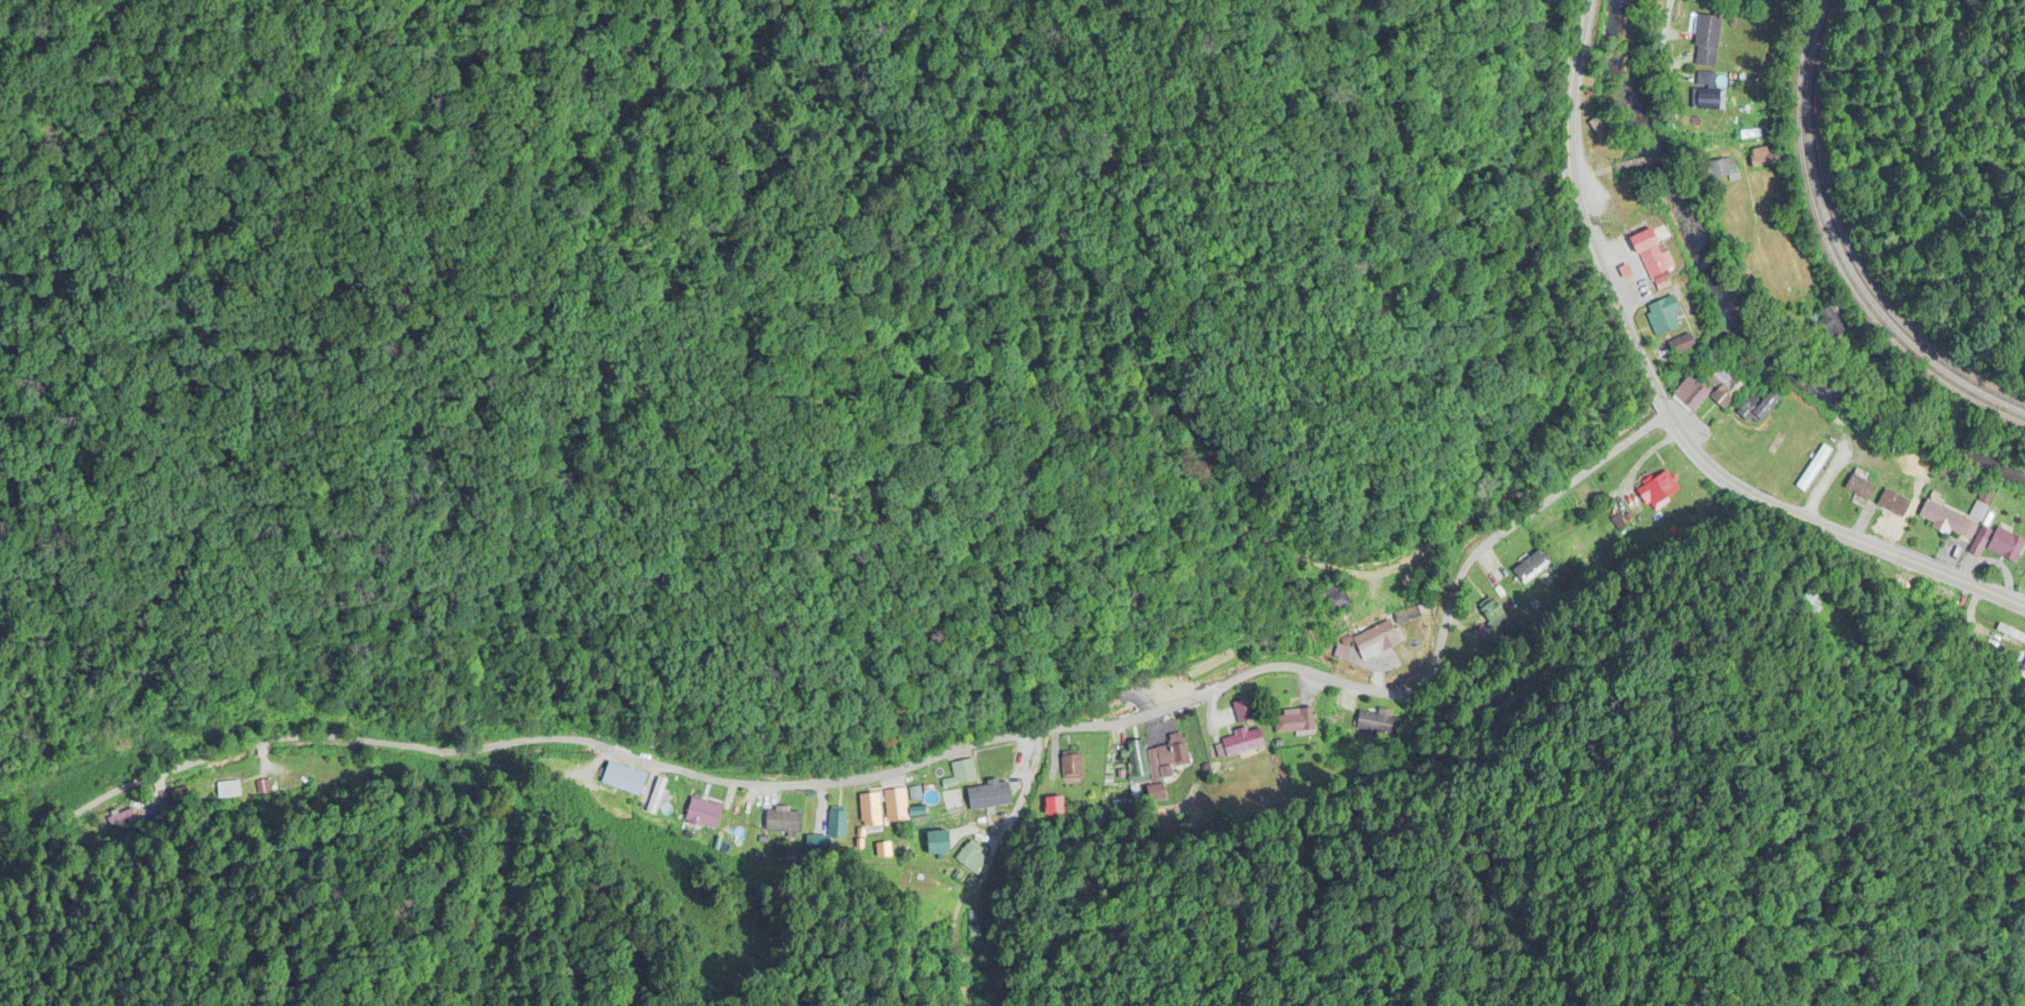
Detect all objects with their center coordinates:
building: (1706, 37)
road: (1667, 43)
building: (1706, 99)
building: (1600, 126)
building: (1764, 158)
road: (1653, 159)
building: (1723, 169)
road: (1602, 173)
road: (1762, 219)
railway: (1836, 249)
building: (1653, 253)
building: (1663, 315)
river: (1730, 319)
building: (1831, 324)
building: (1682, 345)
building: (1691, 395)
road: (1661, 406)
building: (1756, 408)
building: (1814, 467)
building: (1862, 486)
building: (1658, 492)
building: (1893, 502)
building: (1979, 509)
building: (1946, 518)
building: (2006, 541)
building: (1910, 587)
building: (1335, 596)
building: (2011, 633)
building: (1376, 640)
building: (2023, 667)
road: (1919, 681)
building: (1109, 700)
building: (1294, 724)
building: (1374, 725)
building: (602, 733)
building: (1165, 758)
building: (1136, 762)
road: (894, 769)
building: (1071, 770)
building: (960, 774)
building: (623, 780)
building: (986, 796)
building: (895, 805)
building: (869, 809)
building: (703, 815)
building: (117, 817)
building: (782, 823)
building: (829, 832)
building: (939, 842)
building: (971, 858)

